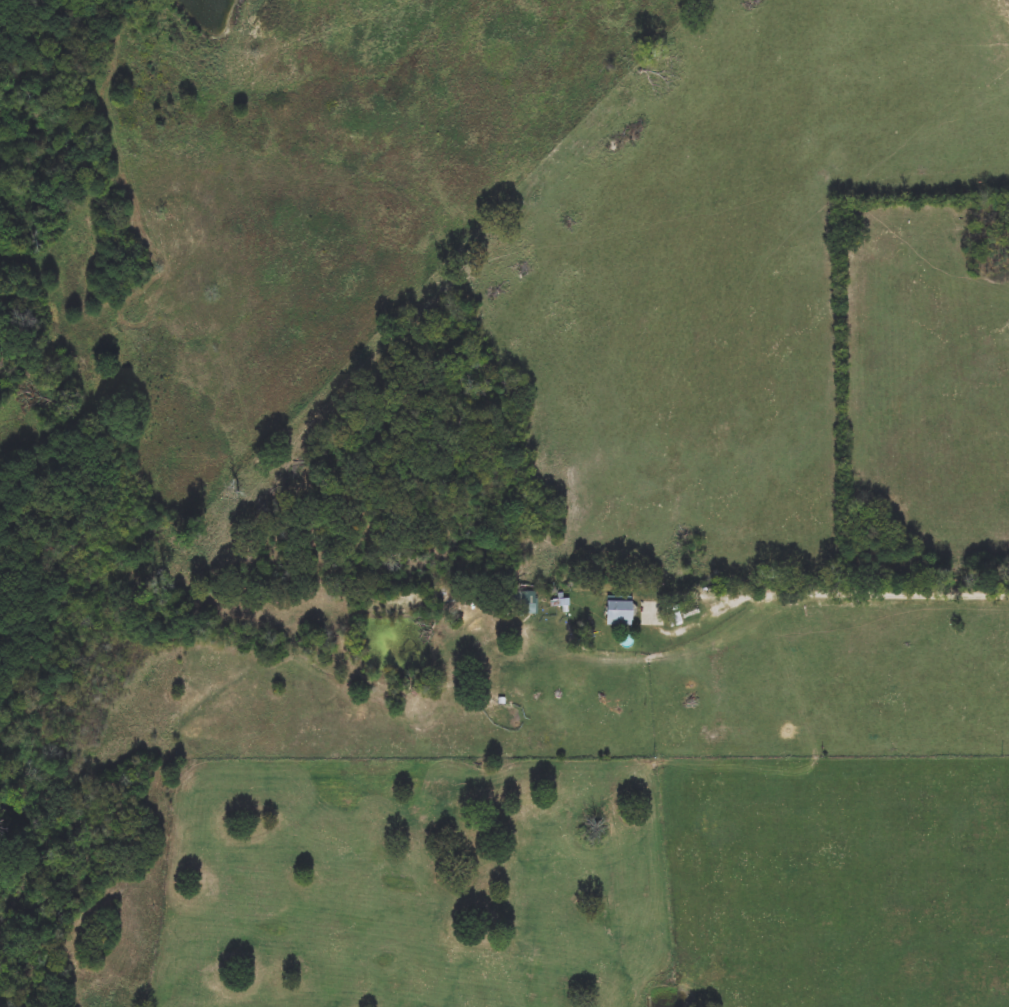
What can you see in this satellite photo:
road: (846, 597)
building: (618, 613)

